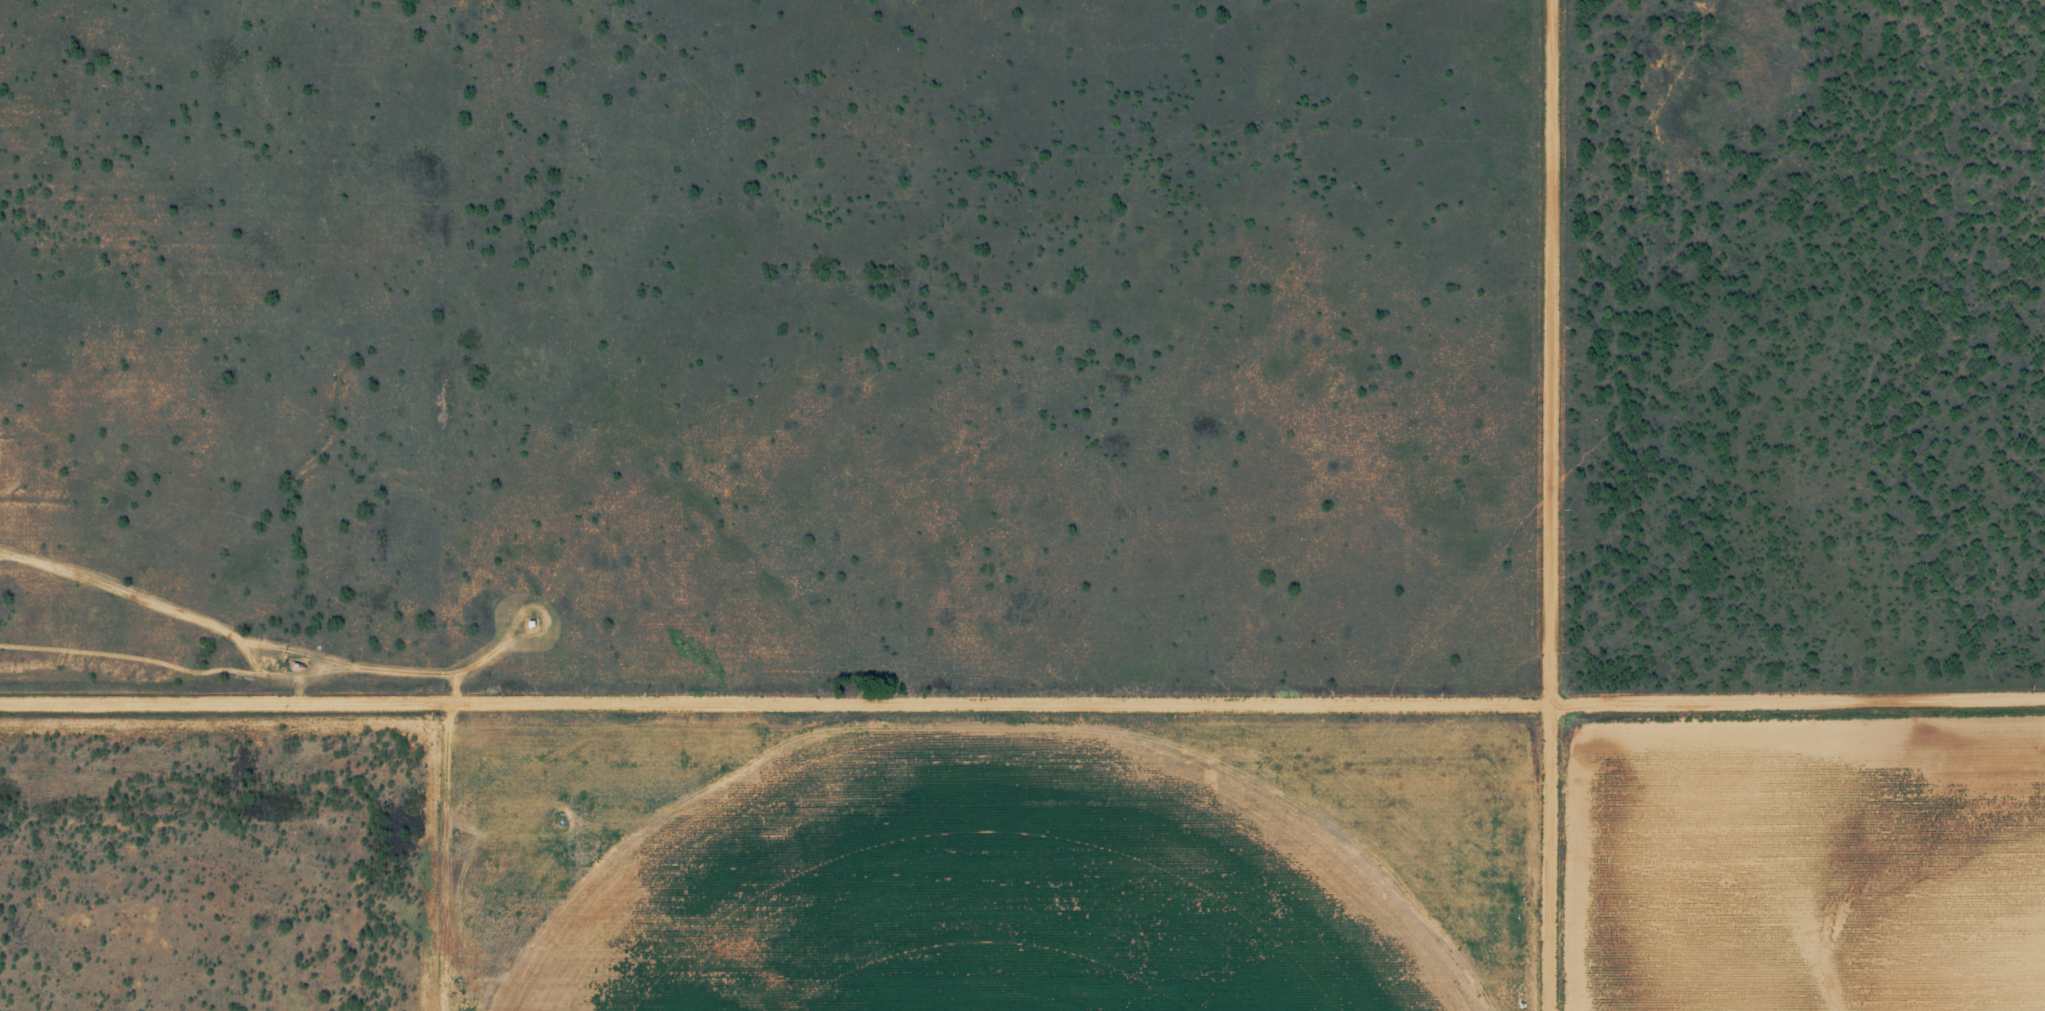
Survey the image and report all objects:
road: (1552, 505)
road: (1022, 705)

